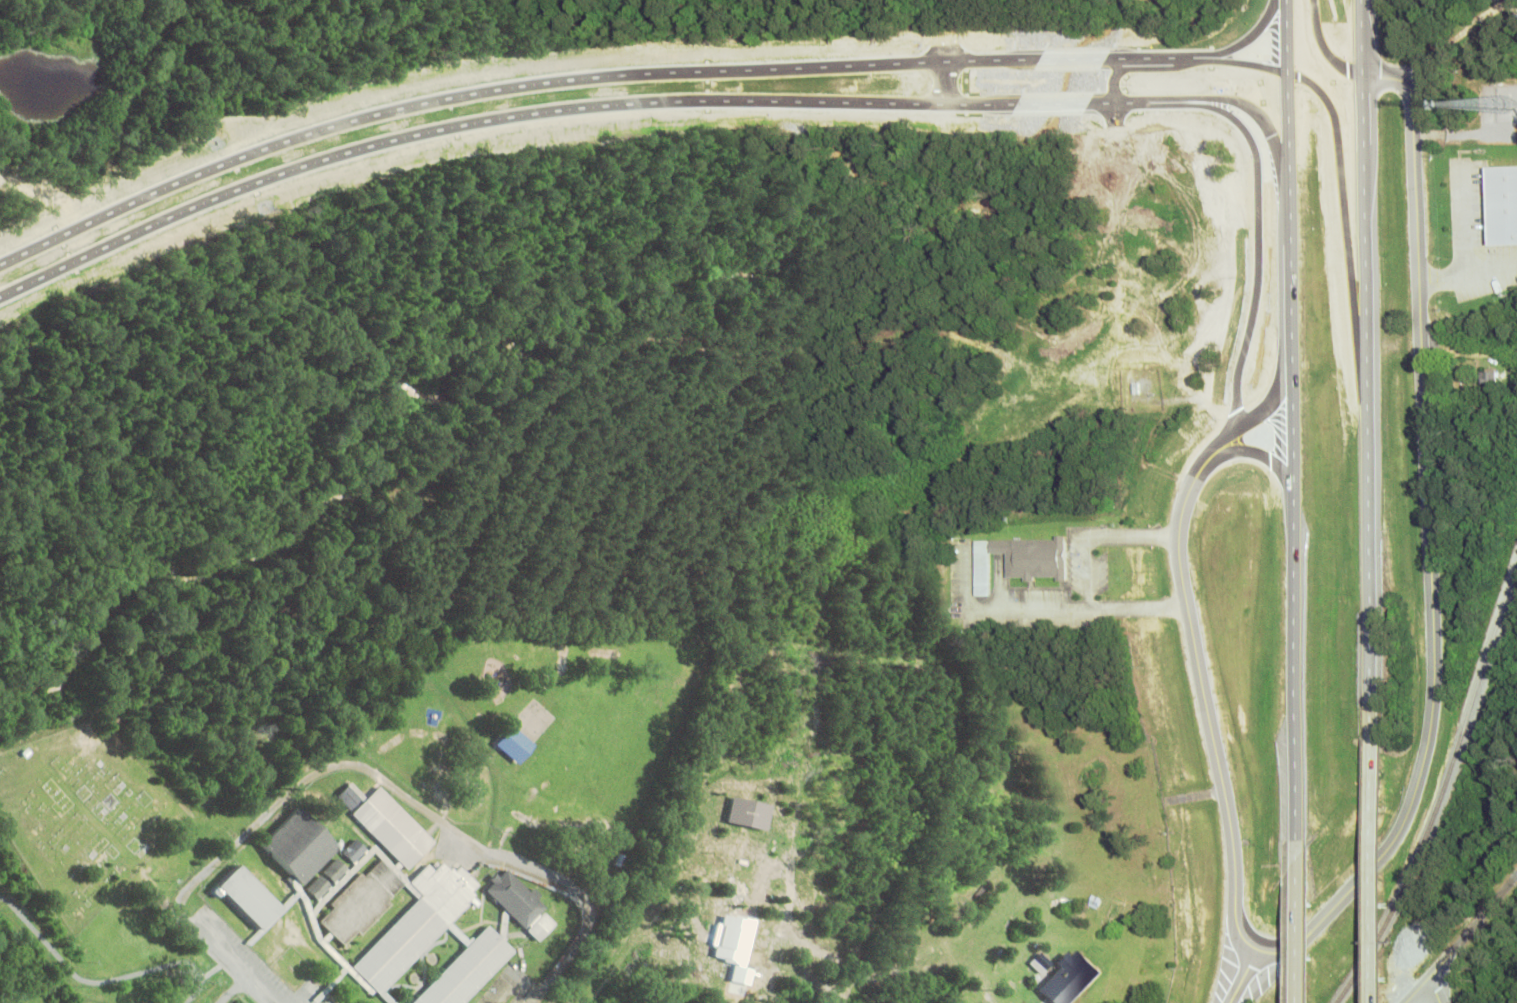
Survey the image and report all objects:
road: (1286, 31)
road: (1248, 32)
road: (1361, 32)
road: (1325, 41)
road: (1251, 55)
road: (1161, 56)
road: (1071, 57)
road: (941, 80)
road: (503, 87)
road: (1052, 101)
road: (1146, 101)
road: (492, 117)
road: (1264, 126)
building: (1504, 204)
road: (1461, 217)
road: (1345, 226)
parking lot: (1474, 237)
building: (1487, 251)
road: (1252, 259)
road: (1467, 271)
building: (1486, 380)
road: (1367, 384)
road: (1262, 401)
road: (1261, 448)
road: (1294, 451)
building: (1038, 557)
building: (985, 567)
road: (1087, 578)
parking lot: (1025, 594)
road: (998, 608)
railway: (1439, 788)
building: (346, 795)
road: (1407, 800)
road: (419, 804)
park: (82, 813)
building: (390, 827)
building: (295, 845)
building: (353, 849)
road: (1376, 853)
building: (333, 868)
building: (317, 885)
building: (514, 896)
building: (255, 898)
building: (359, 902)
road: (1481, 911)
road: (1305, 922)
building: (415, 923)
building: (541, 926)
road: (212, 947)
building: (466, 969)
road: (1238, 975)
building: (1073, 977)
road: (1424, 979)
road: (233, 990)
road: (1430, 991)

